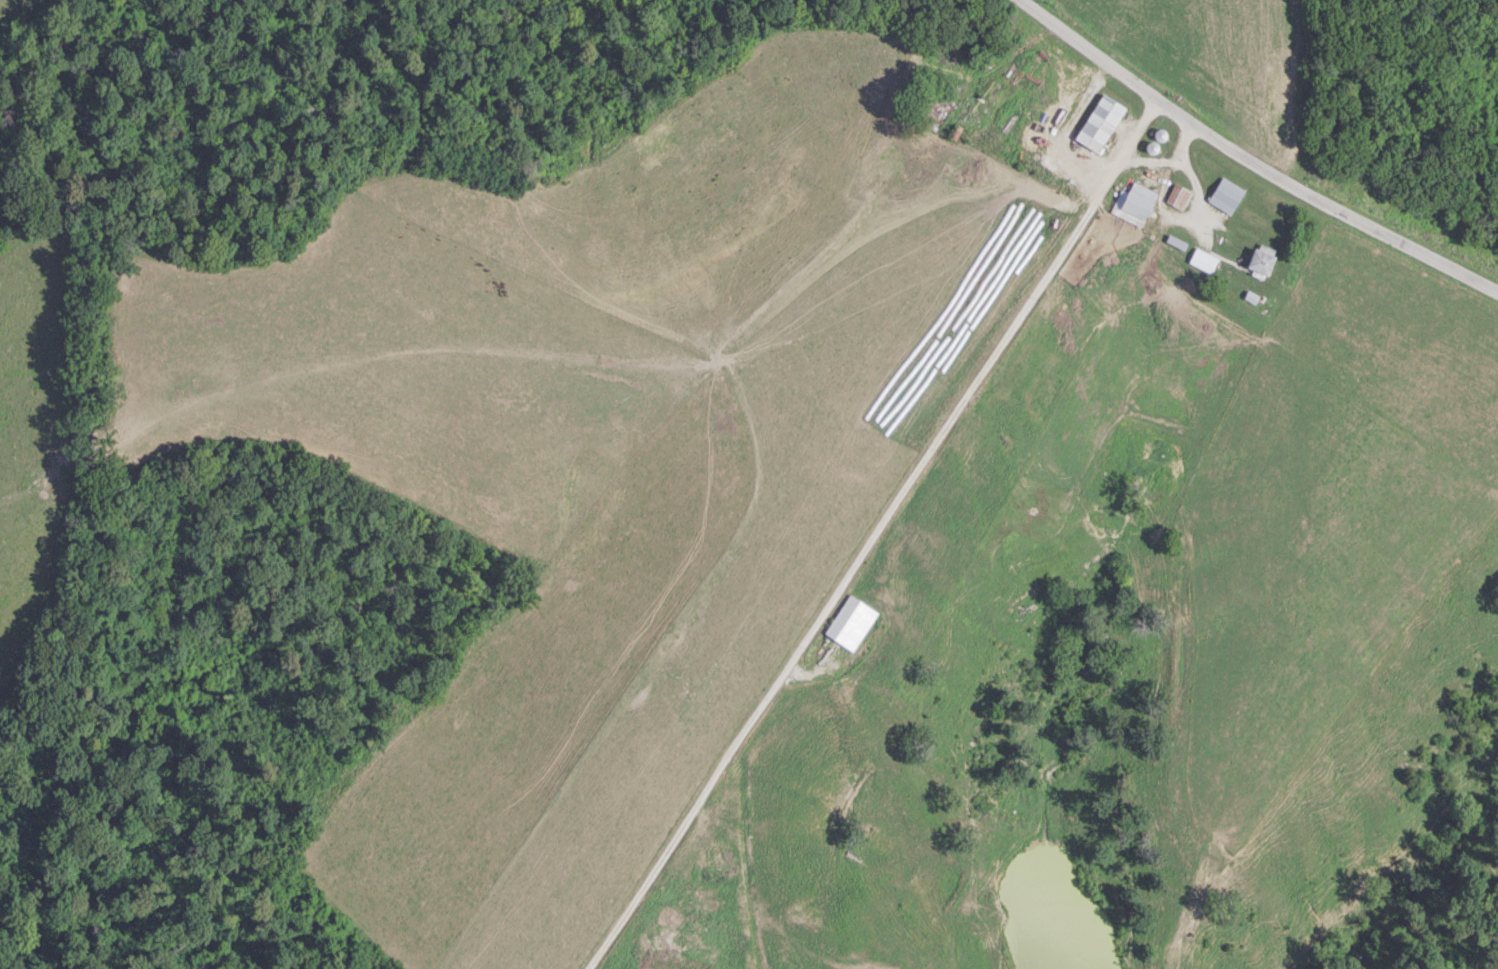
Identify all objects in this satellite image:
building: (1098, 124)
road: (1137, 128)
road: (1249, 161)
road: (1191, 176)
building: (1224, 196)
building: (1178, 197)
building: (1132, 203)
building: (1202, 259)
building: (1259, 259)
road: (852, 564)
building: (849, 623)

